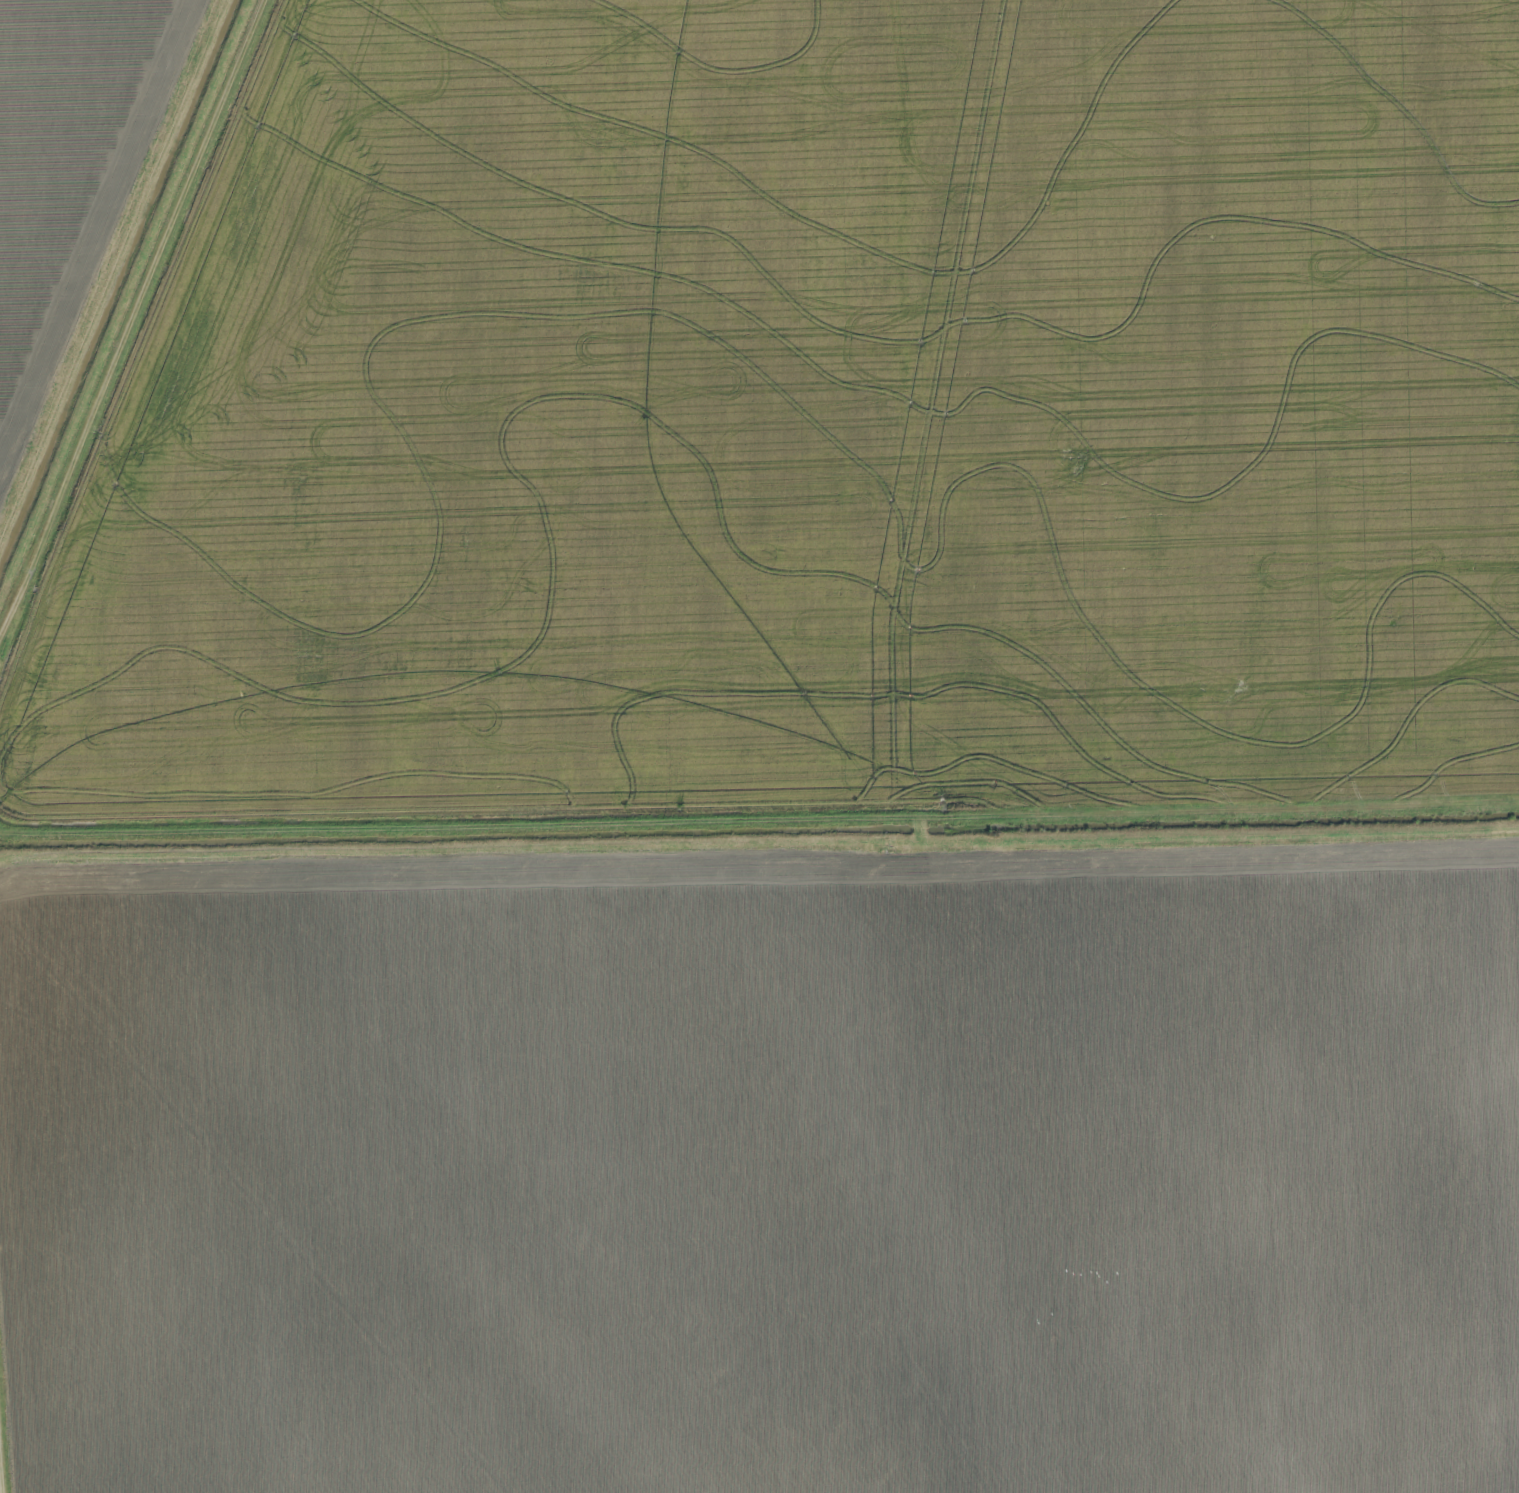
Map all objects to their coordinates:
road: (133, 323)
road: (3, 1449)

